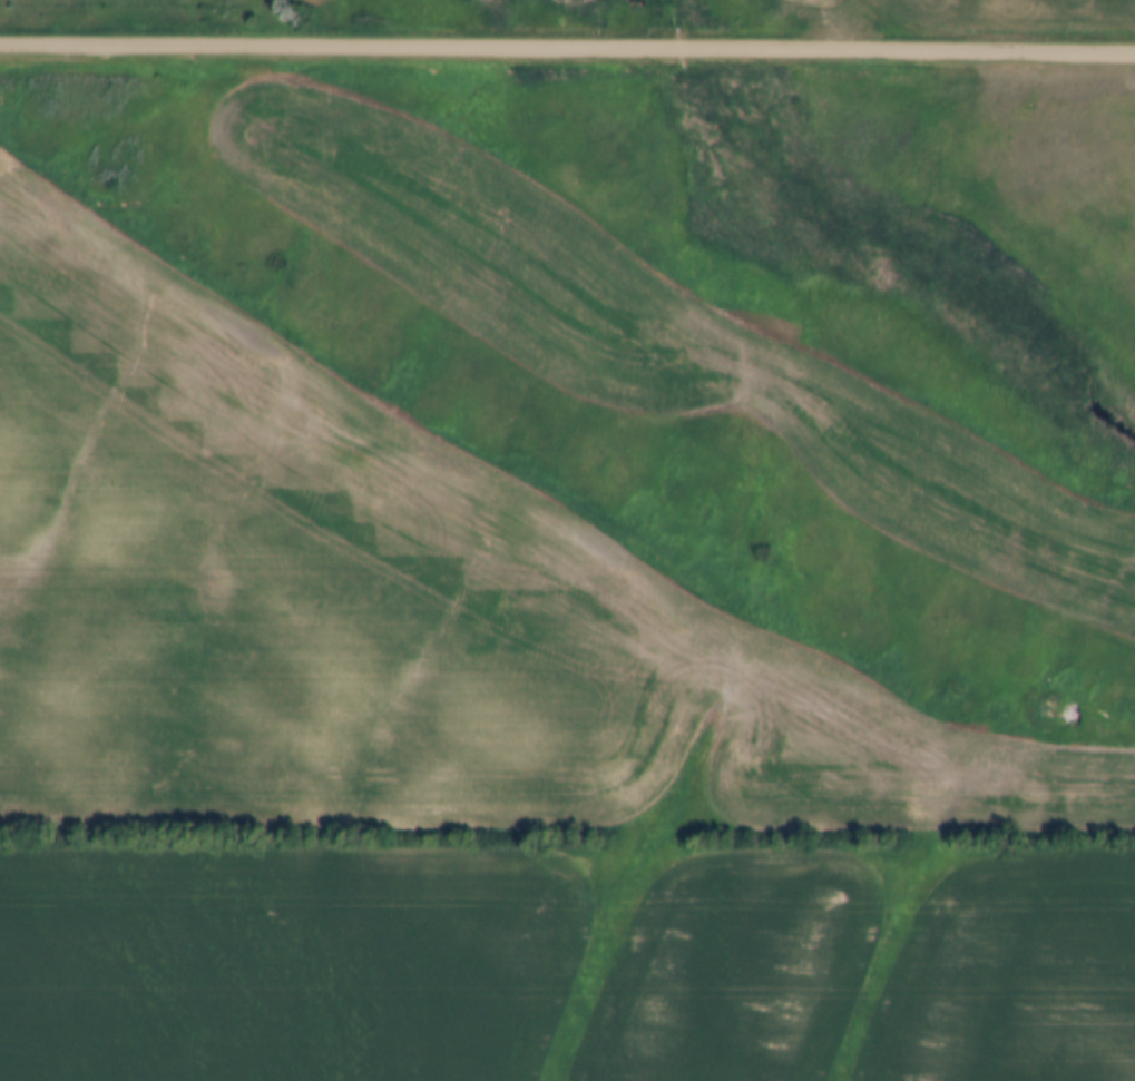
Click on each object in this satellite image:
road: (567, 47)

